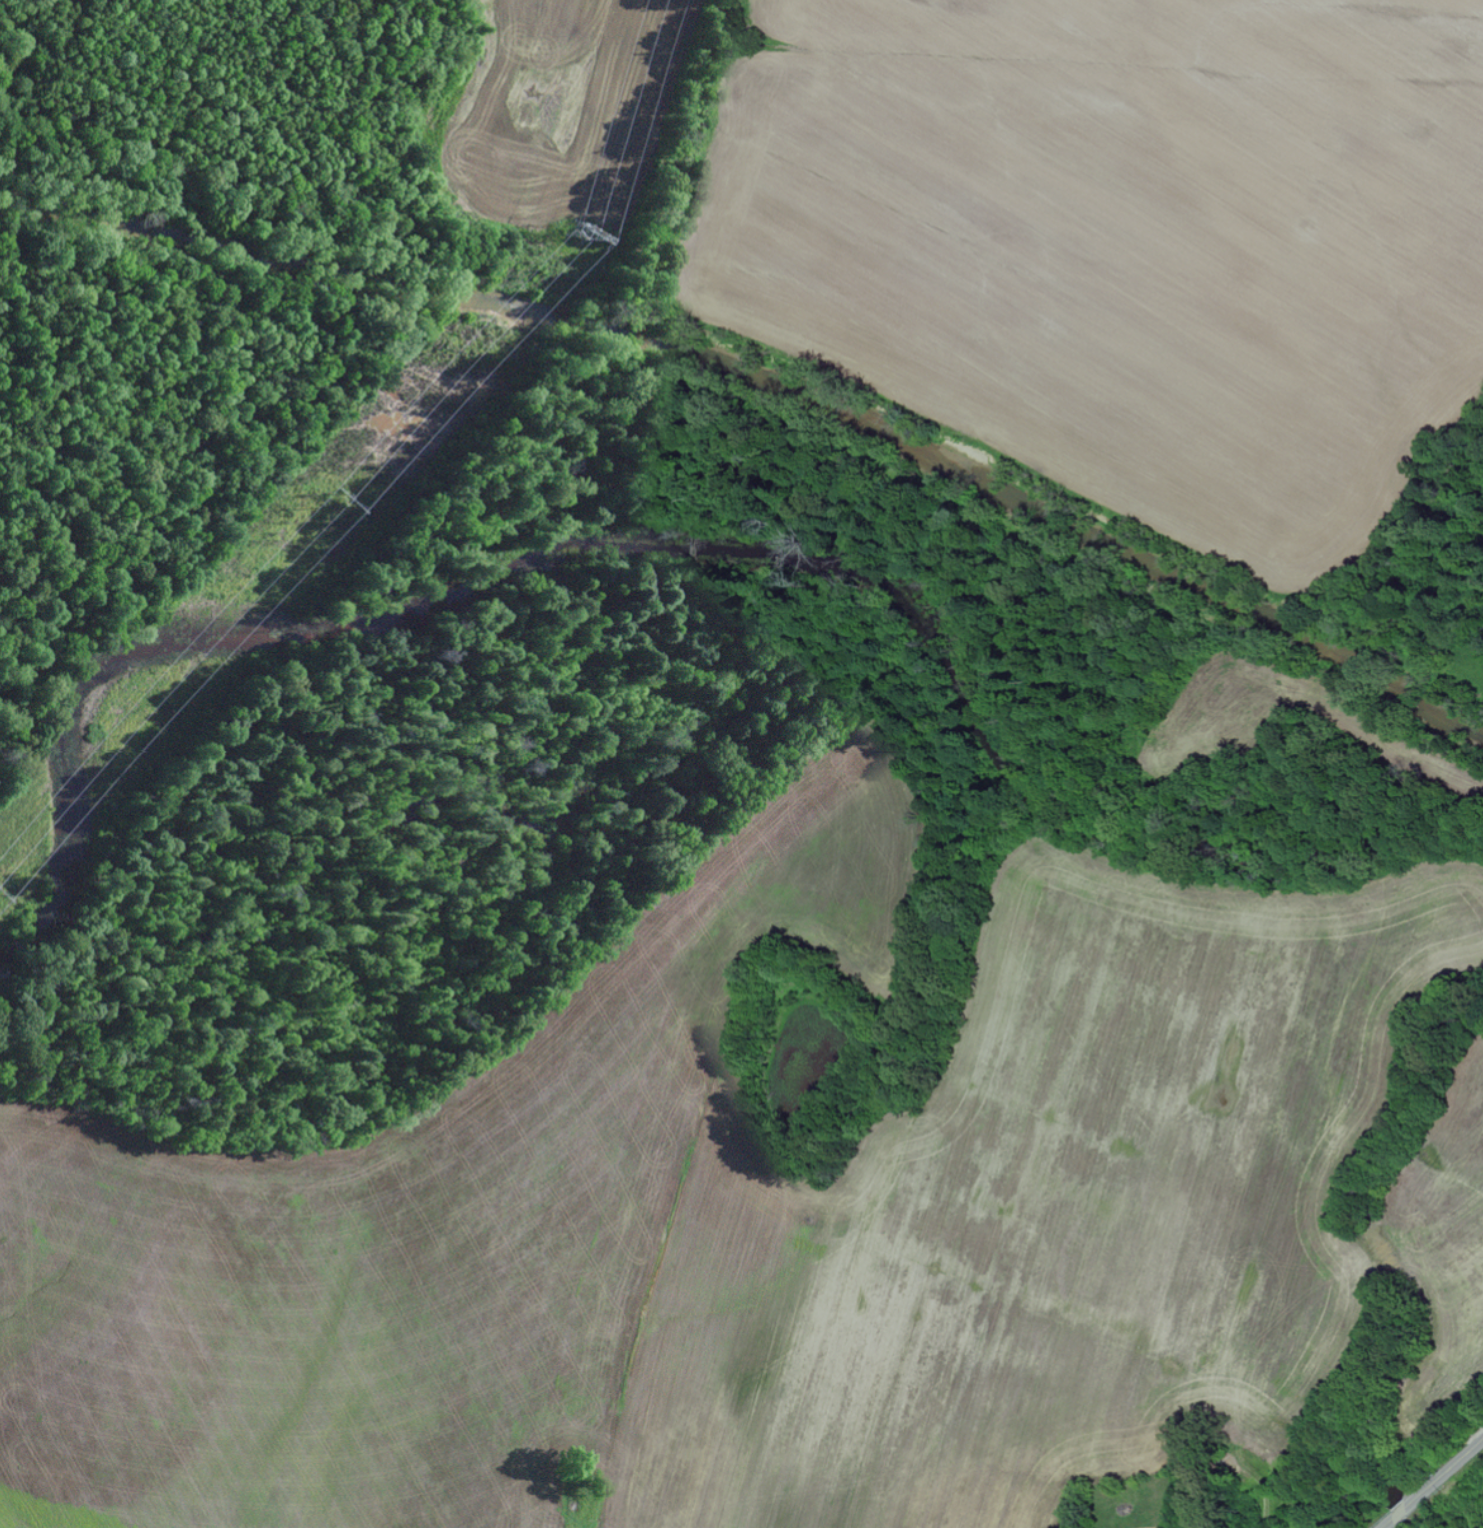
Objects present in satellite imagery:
power tower: (582, 233)
power tower: (342, 494)
road: (1468, 787)
road: (1434, 1486)

